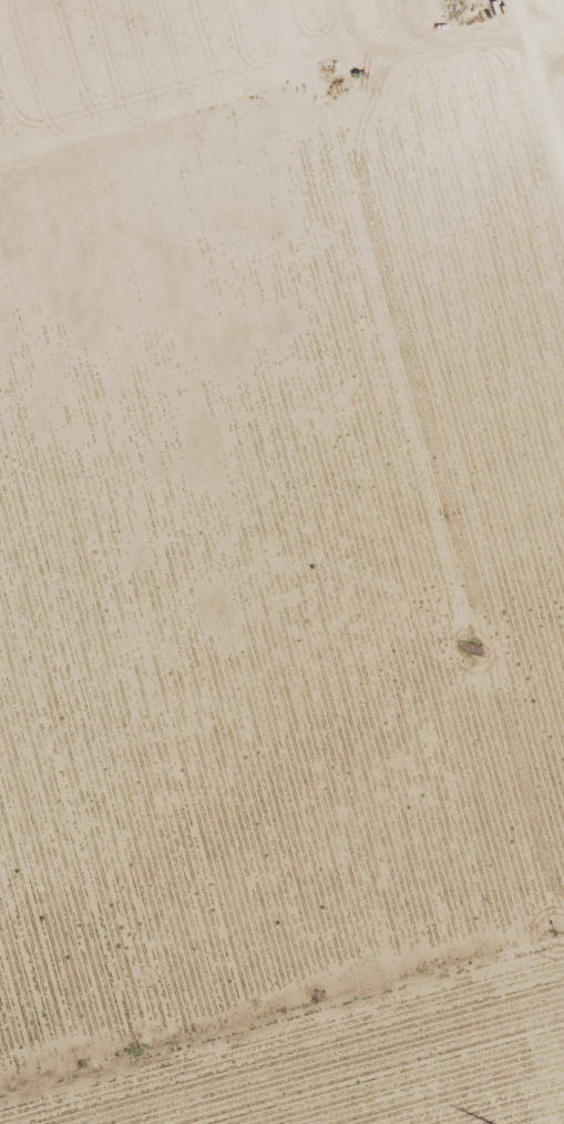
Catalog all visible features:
road: (281, 690)

